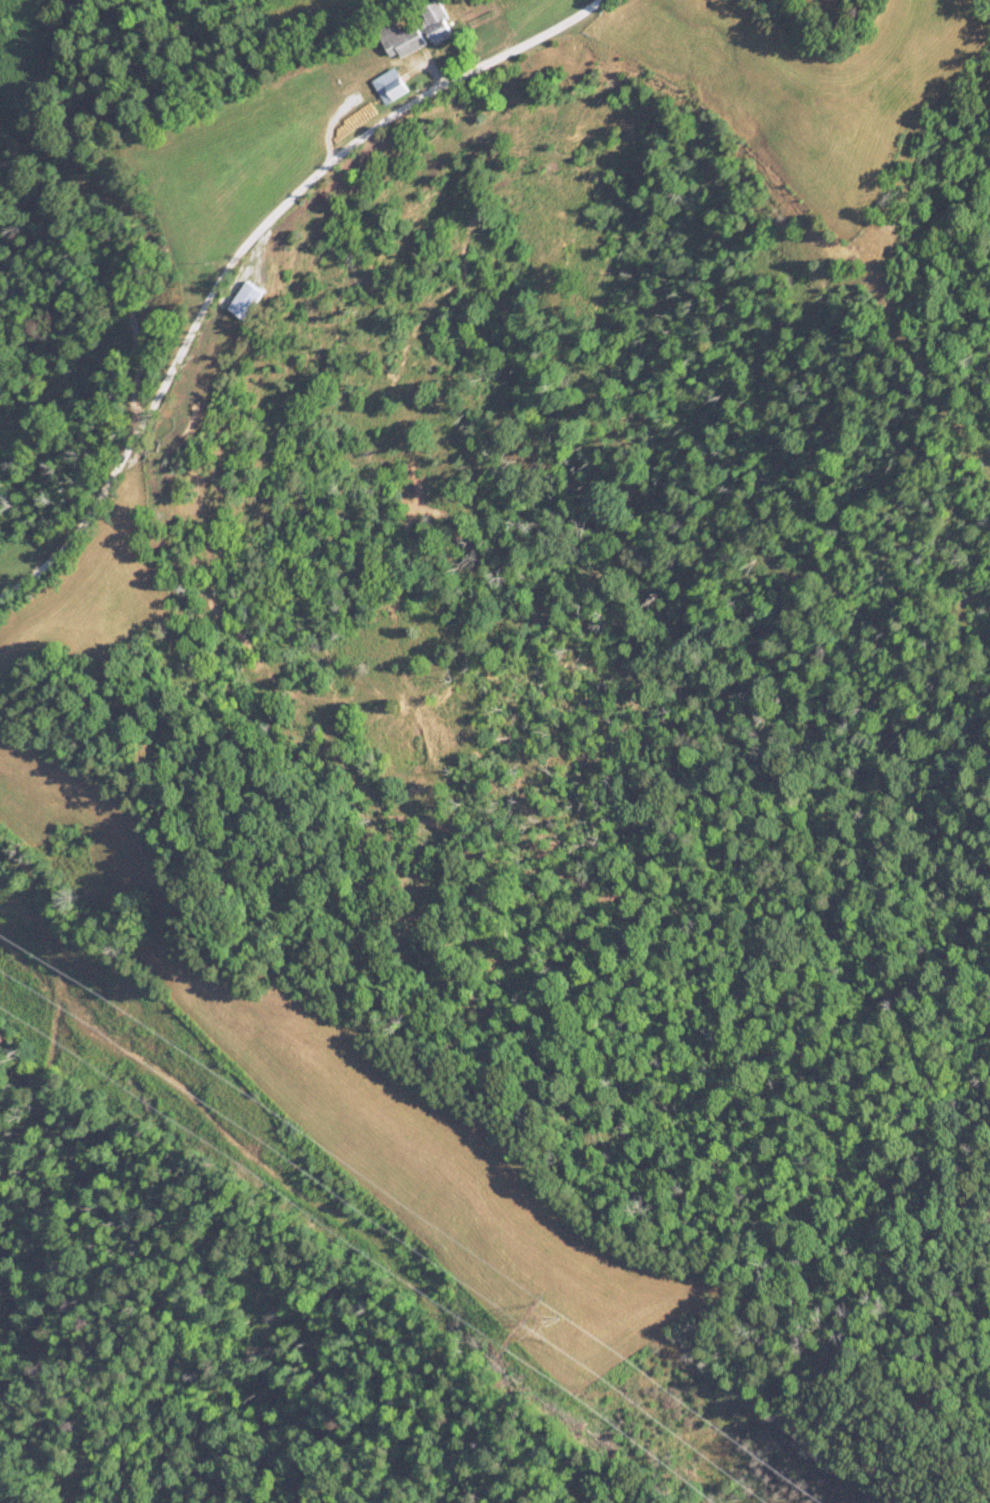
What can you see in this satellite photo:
building: (434, 21)
building: (400, 40)
building: (388, 87)
road: (354, 173)
road: (94, 272)
building: (244, 301)
road: (96, 501)
power tower: (547, 1321)

